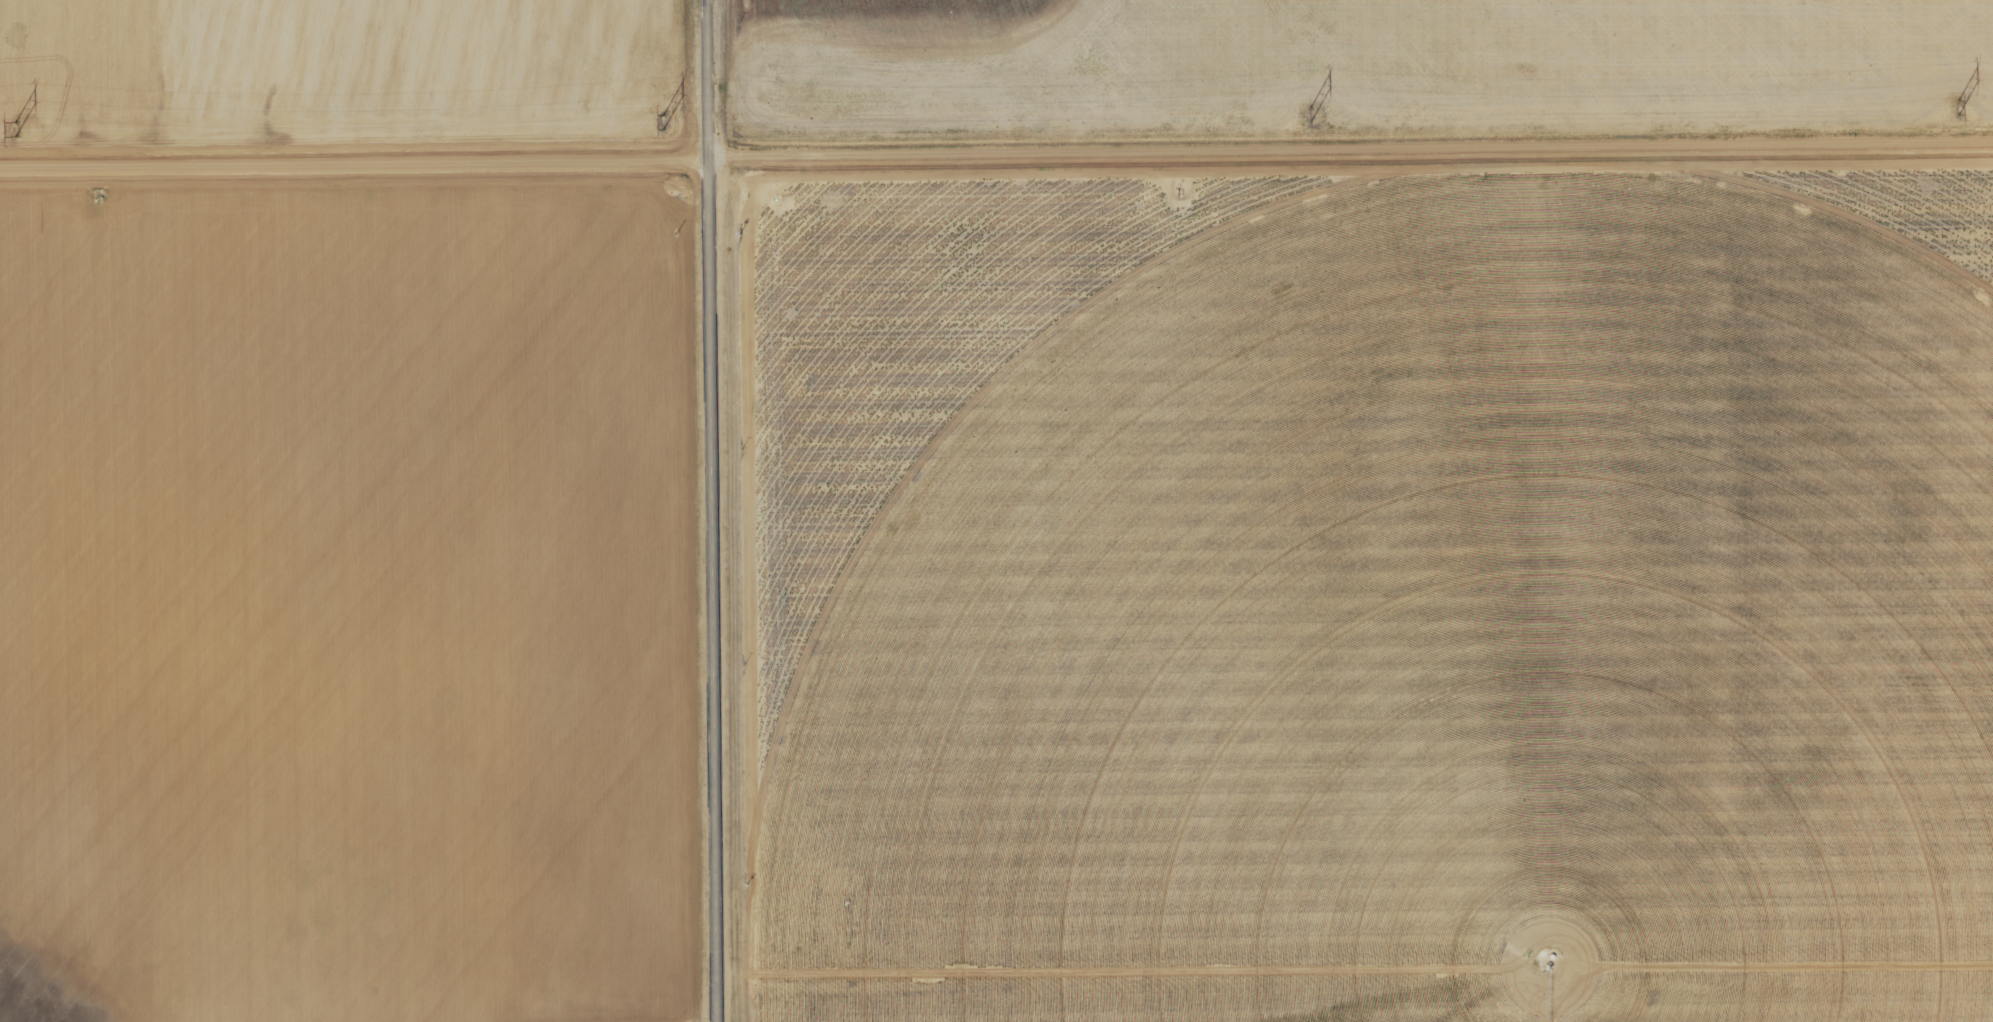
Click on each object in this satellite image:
power tower: (1957, 108)
power tower: (1311, 114)
power tower: (661, 121)
power tower: (14, 130)
road: (996, 156)
road: (711, 511)

